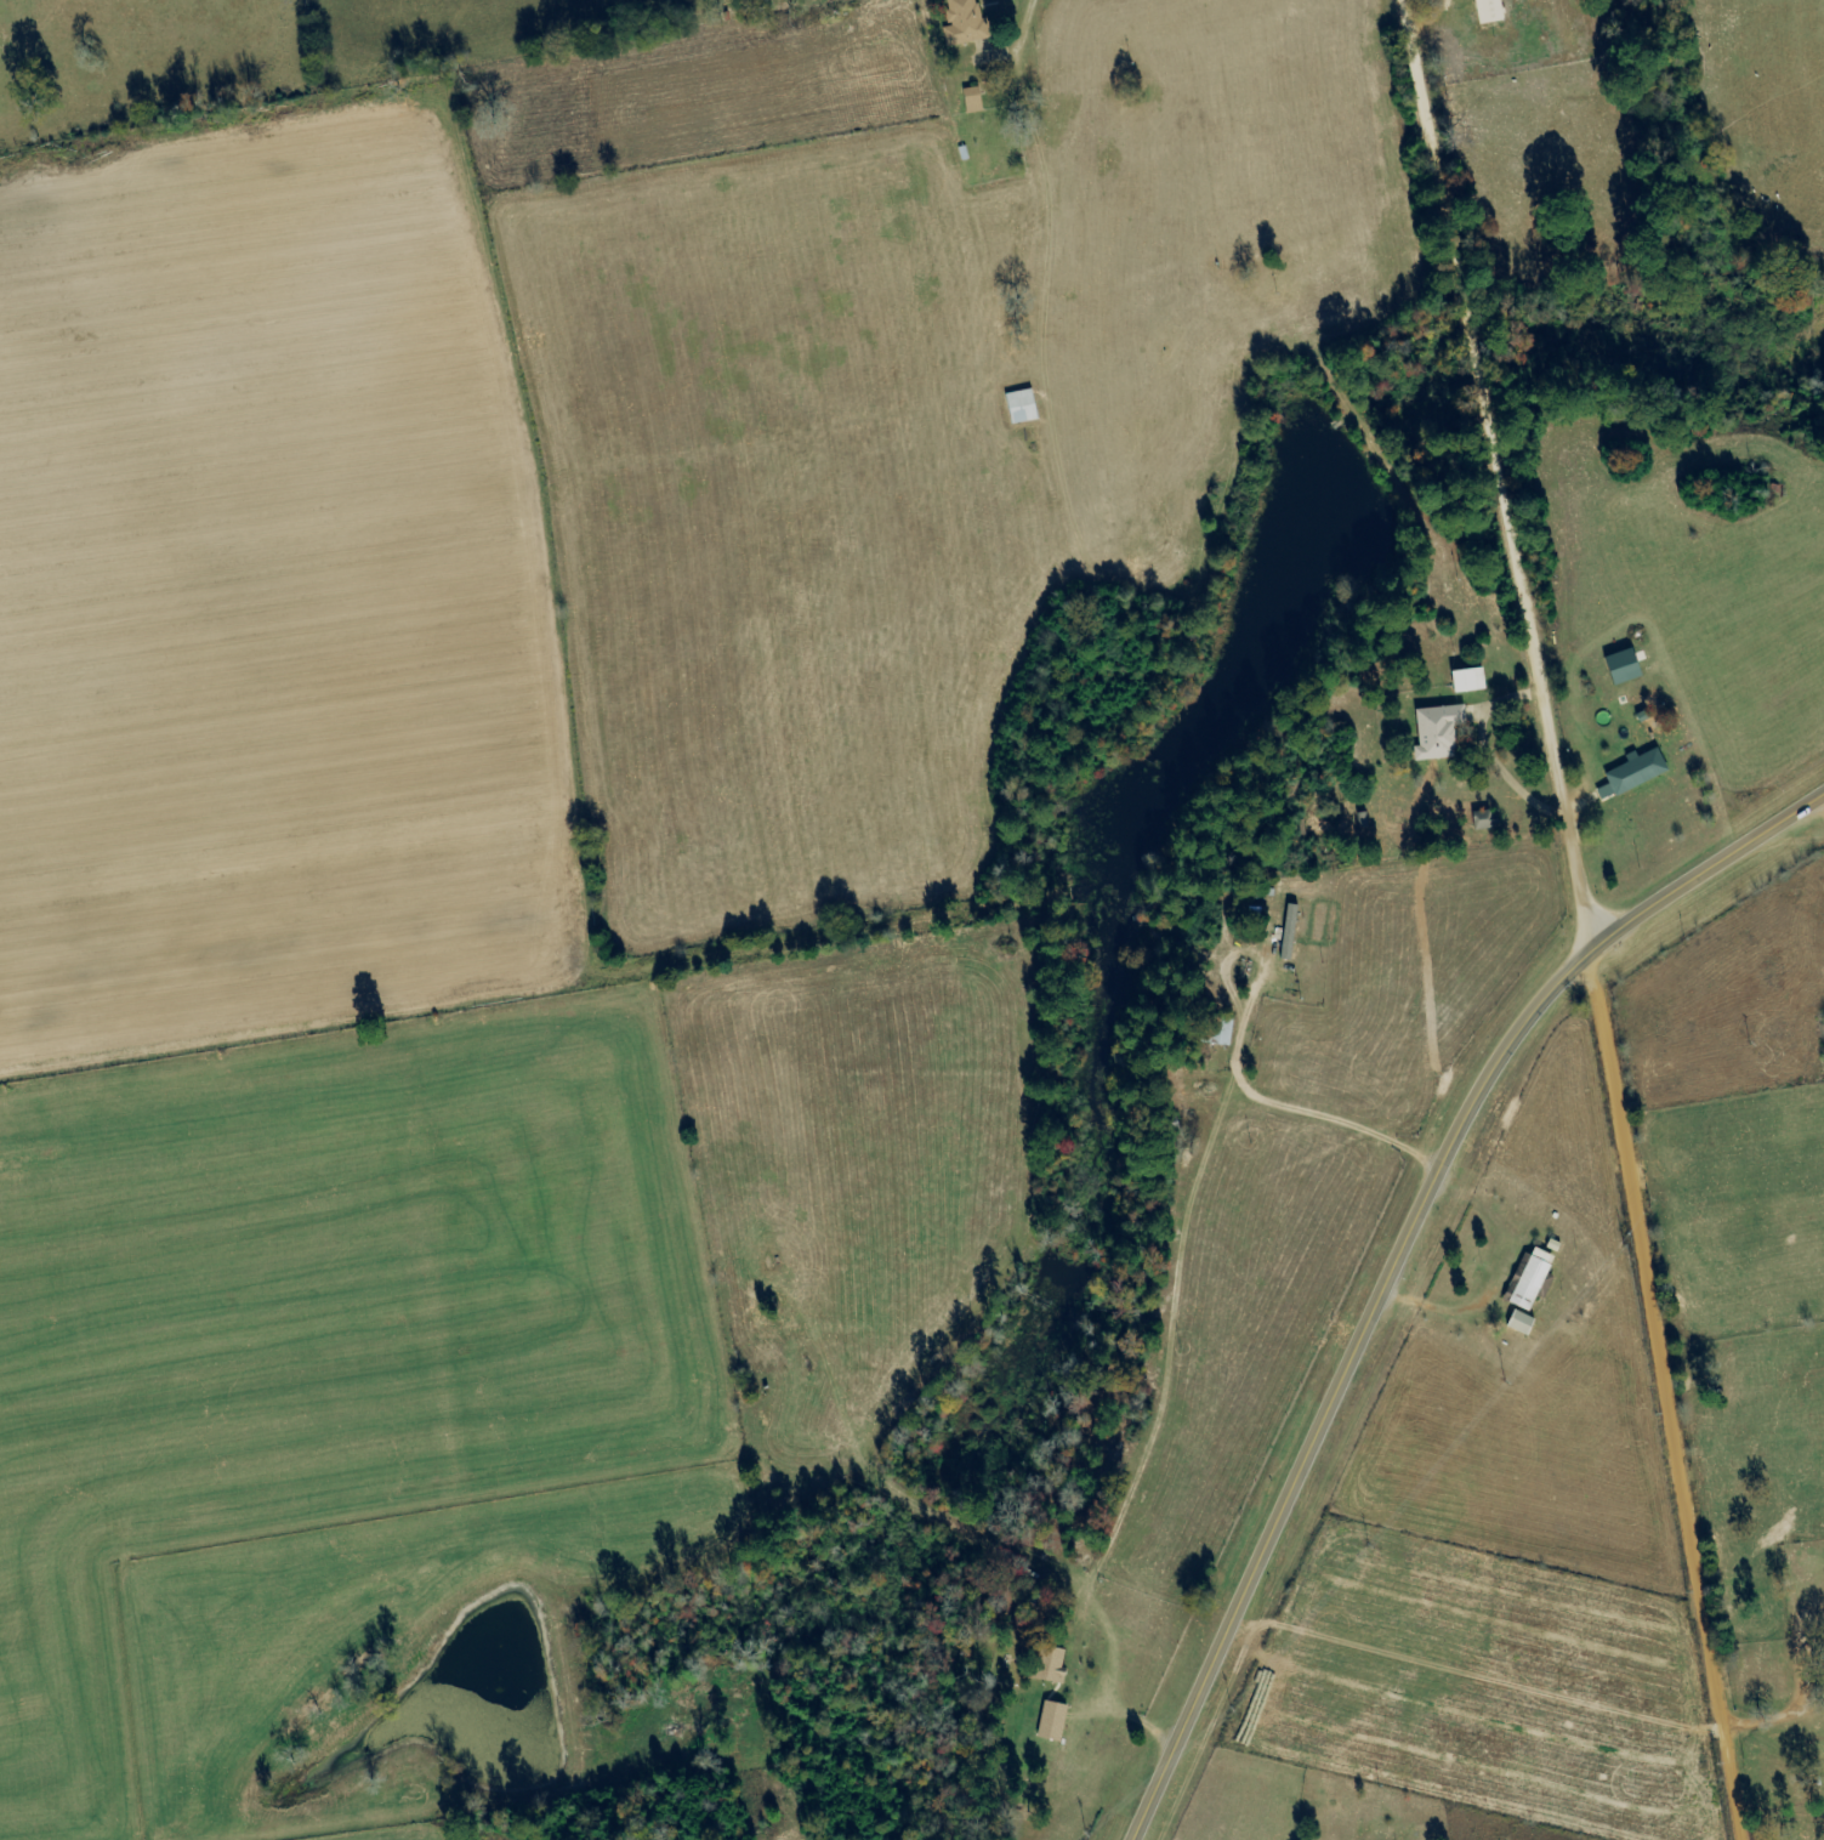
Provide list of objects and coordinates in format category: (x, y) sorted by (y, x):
building: (1485, 11)
building: (960, 22)
building: (970, 101)
building: (1018, 407)
road: (1505, 472)
building: (1619, 669)
building: (1433, 732)
building: (1630, 774)
building: (1478, 820)
building: (1285, 932)
road: (1396, 1251)
building: (1517, 1323)
road: (1665, 1395)
building: (1045, 1664)
building: (1049, 1721)

